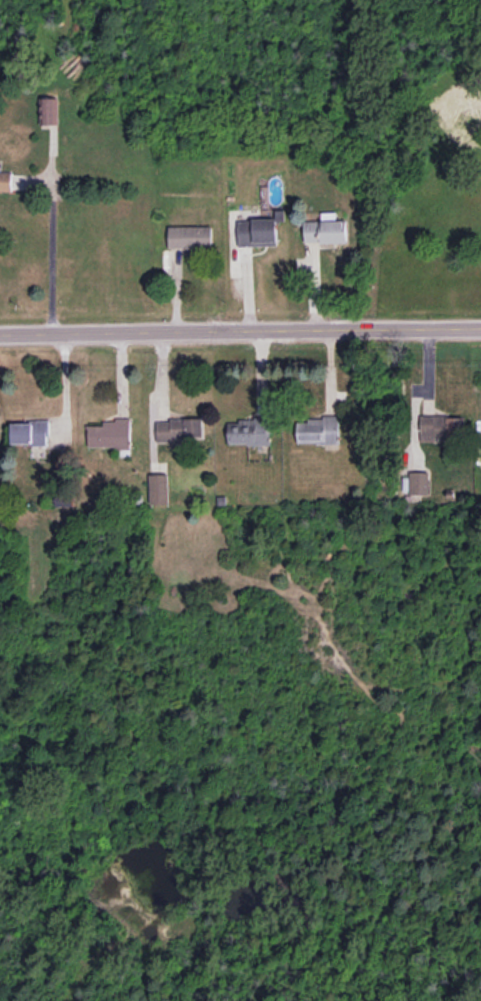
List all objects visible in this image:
building: (48, 110)
building: (5, 180)
building: (325, 229)
building: (258, 230)
building: (189, 237)
road: (49, 252)
road: (240, 330)
building: (441, 427)
building: (179, 428)
building: (317, 429)
building: (249, 431)
building: (29, 432)
building: (109, 433)
building: (417, 482)
building: (158, 488)

